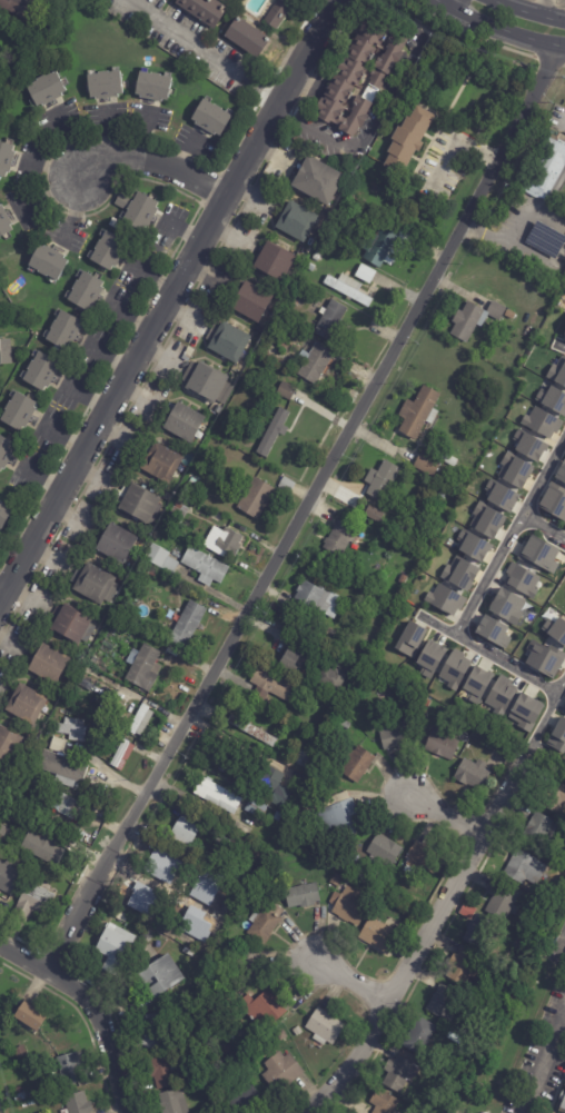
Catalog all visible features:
building: (157, 3)
road: (439, 3)
road: (447, 3)
road: (539, 7)
building: (18, 8)
building: (202, 10)
road: (528, 11)
building: (278, 14)
road: (503, 33)
building: (14, 34)
road: (182, 38)
building: (246, 38)
building: (235, 53)
building: (358, 73)
building: (105, 85)
building: (153, 87)
building: (46, 90)
building: (210, 118)
road: (376, 121)
building: (408, 137)
building: (6, 159)
road: (151, 163)
building: (547, 166)
building: (319, 178)
building: (122, 201)
building: (344, 207)
building: (140, 212)
building: (369, 212)
building: (296, 219)
road: (523, 222)
building: (3, 223)
building: (115, 223)
building: (545, 239)
building: (381, 246)
building: (109, 251)
building: (317, 255)
building: (274, 259)
building: (48, 261)
building: (310, 266)
building: (365, 272)
building: (348, 288)
building: (86, 291)
road: (160, 296)
building: (251, 300)
building: (507, 317)
building: (474, 318)
building: (330, 319)
building: (63, 330)
building: (483, 331)
building: (564, 336)
building: (228, 339)
road: (561, 346)
building: (4, 352)
building: (187, 352)
building: (315, 360)
building: (41, 371)
building: (557, 371)
building: (208, 381)
building: (287, 390)
building: (552, 399)
building: (217, 408)
building: (418, 410)
building: (19, 413)
building: (277, 420)
building: (185, 421)
building: (541, 423)
building: (528, 445)
building: (217, 446)
building: (6, 453)
building: (564, 457)
building: (448, 458)
building: (161, 460)
building: (427, 463)
building: (514, 470)
building: (561, 473)
road: (543, 476)
building: (191, 480)
building: (379, 480)
building: (286, 485)
building: (442, 493)
building: (500, 495)
building: (256, 497)
building: (140, 503)
building: (553, 503)
building: (179, 509)
road: (305, 509)
building: (374, 513)
building: (3, 515)
building: (486, 519)
road: (543, 527)
building: (339, 538)
building: (117, 543)
building: (224, 543)
building: (473, 545)
building: (538, 555)
building: (160, 558)
building: (205, 565)
building: (146, 573)
building: (459, 573)
road: (488, 575)
building: (403, 578)
building: (521, 579)
building: (93, 582)
road: (2, 592)
building: (314, 596)
building: (445, 599)
building: (506, 606)
building: (363, 612)
building: (72, 624)
building: (187, 624)
road: (437, 625)
building: (493, 630)
building: (556, 630)
building: (410, 639)
building: (429, 658)
building: (544, 658)
building: (291, 660)
building: (48, 663)
road: (505, 664)
building: (143, 667)
building: (454, 668)
building: (330, 677)
building: (477, 680)
building: (109, 682)
building: (365, 684)
road: (561, 684)
building: (271, 685)
building: (89, 686)
building: (500, 694)
building: (296, 695)
building: (564, 697)
building: (26, 703)
building: (426, 703)
building: (564, 705)
building: (526, 710)
building: (119, 712)
building: (140, 721)
road: (541, 723)
building: (345, 725)
building: (71, 729)
building: (251, 729)
building: (399, 735)
building: (557, 736)
building: (440, 743)
building: (57, 745)
building: (9, 746)
building: (121, 753)
building: (228, 759)
building: (356, 763)
building: (62, 768)
building: (473, 773)
building: (275, 785)
building: (250, 789)
building: (217, 793)
building: (554, 797)
building: (68, 803)
building: (256, 807)
building: (11, 813)
road: (447, 813)
building: (277, 816)
building: (339, 816)
building: (296, 823)
building: (244, 828)
building: (538, 829)
building: (184, 832)
building: (3, 833)
building: (220, 838)
building: (50, 842)
building: (14, 844)
building: (383, 851)
building: (425, 856)
building: (334, 867)
building: (524, 868)
building: (409, 871)
building: (200, 872)
building: (9, 878)
building: (336, 880)
building: (390, 883)
building: (158, 887)
building: (256, 891)
building: (303, 895)
building: (266, 898)
building: (500, 900)
building: (31, 902)
building: (348, 905)
building: (514, 910)
building: (141, 911)
building: (467, 911)
building: (120, 916)
building: (525, 921)
building: (264, 922)
building: (479, 931)
building: (176, 934)
building: (379, 935)
road: (416, 947)
building: (112, 948)
road: (559, 951)
building: (181, 956)
building: (248, 967)
building: (463, 968)
building: (160, 976)
road: (348, 978)
building: (443, 1002)
building: (262, 1007)
road: (89, 1008)
building: (29, 1017)
building: (325, 1025)
building: (297, 1031)
building: (149, 1032)
building: (281, 1035)
building: (419, 1035)
building: (456, 1040)
building: (256, 1049)
building: (225, 1051)
building: (20, 1052)
road: (544, 1067)
building: (69, 1069)
building: (161, 1070)
building: (281, 1072)
building: (398, 1073)
building: (52, 1077)
building: (17, 1091)
building: (19, 1096)
building: (246, 1101)
building: (172, 1102)
building: (384, 1102)
building: (562, 1102)
building: (76, 1103)

